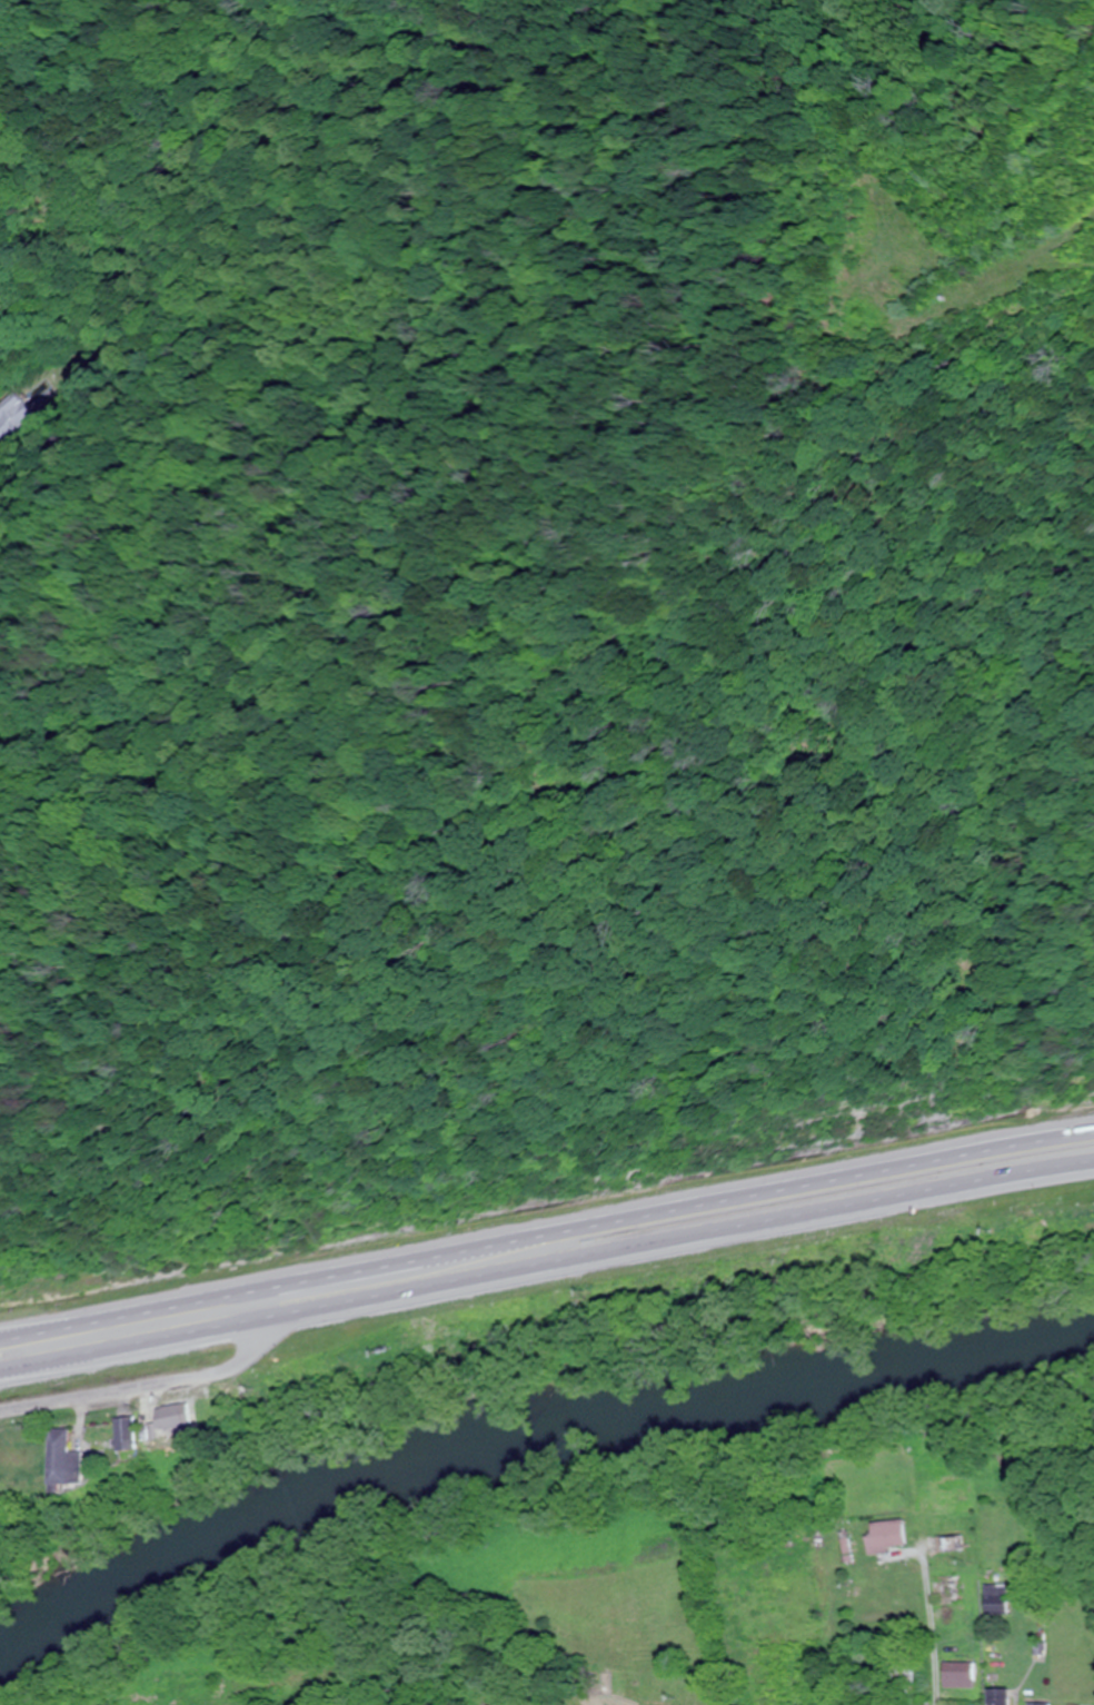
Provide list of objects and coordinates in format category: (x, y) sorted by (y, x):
building: (12, 420)
road: (546, 1230)
road: (546, 1268)
road: (168, 1390)
building: (170, 1420)
building: (123, 1433)
river: (529, 1441)
building: (61, 1459)
building: (887, 1535)
building: (953, 1548)
building: (997, 1599)
road: (938, 1618)
building: (959, 1673)
building: (905, 1675)
building: (999, 1696)

